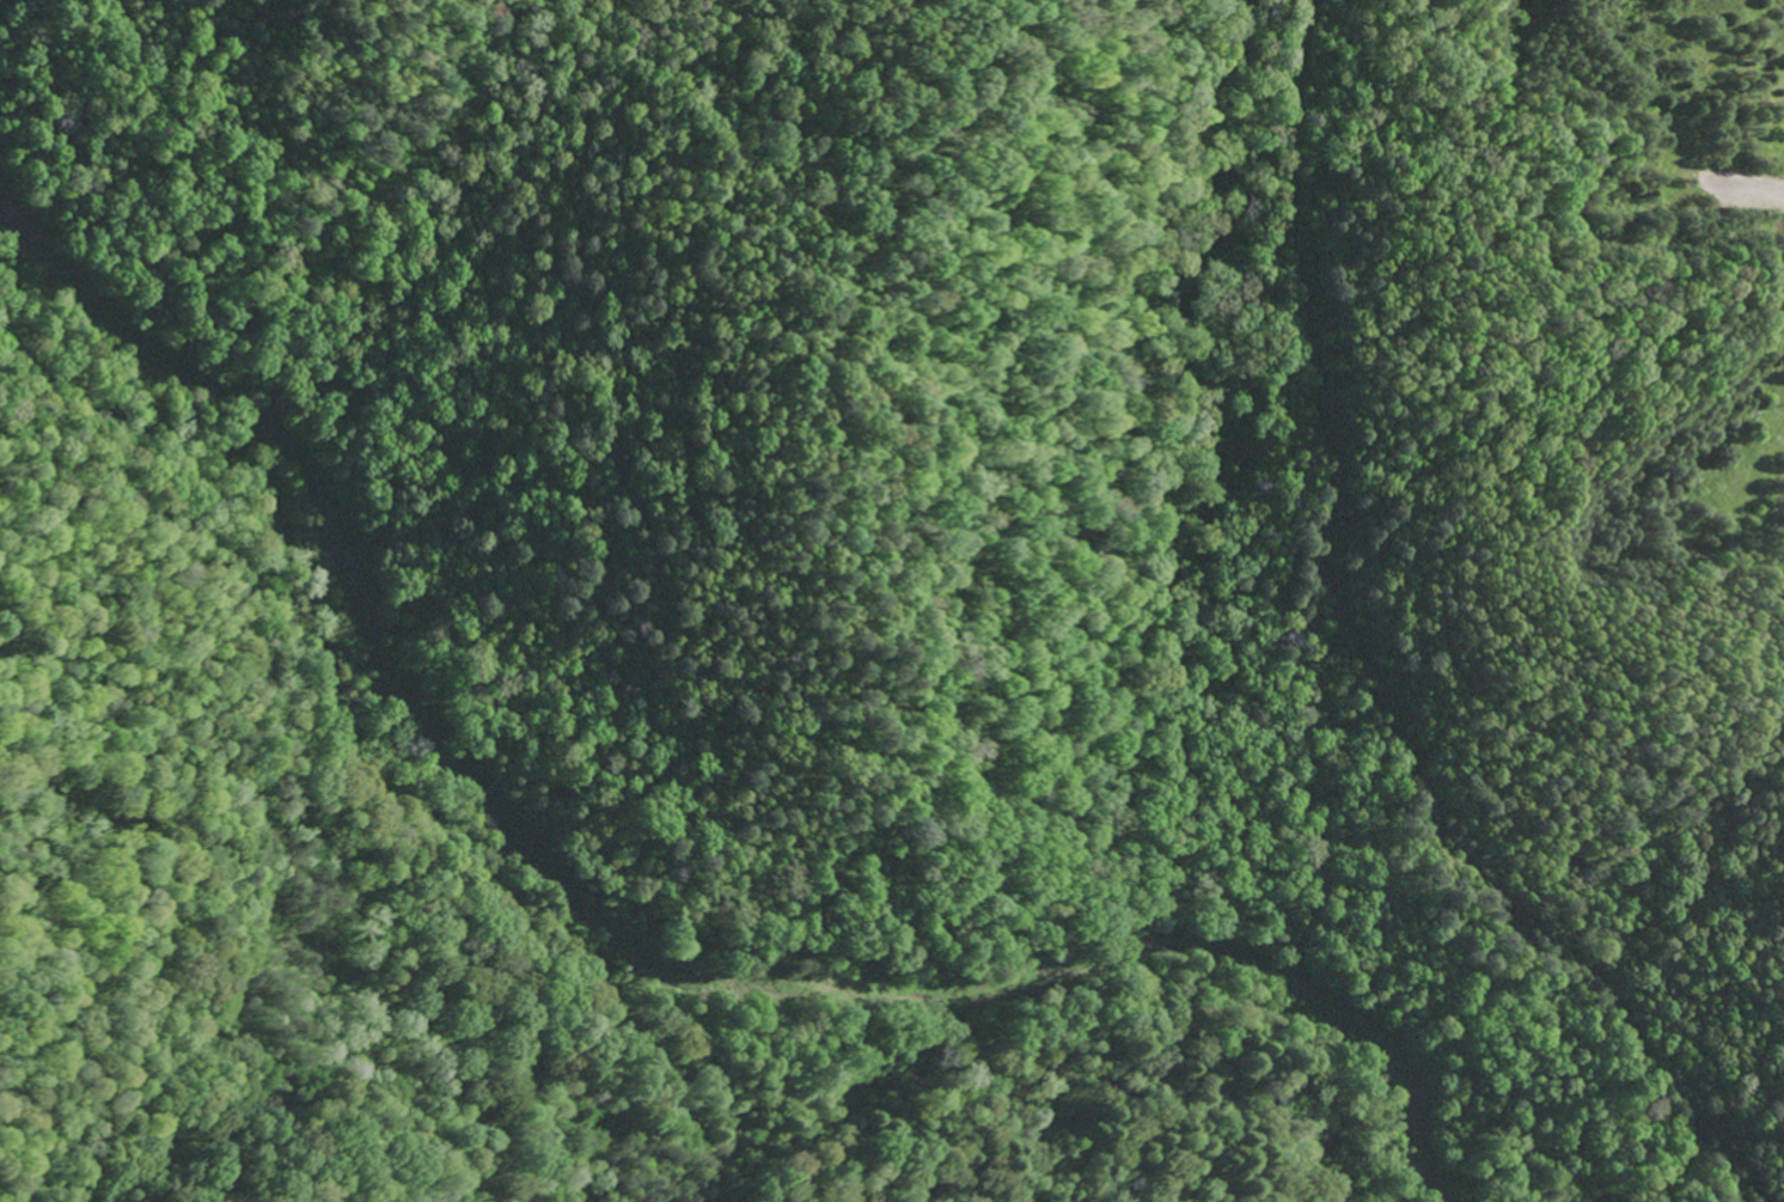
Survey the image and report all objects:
road: (175, 354)
road: (310, 565)
road: (1021, 878)
road: (249, 948)

